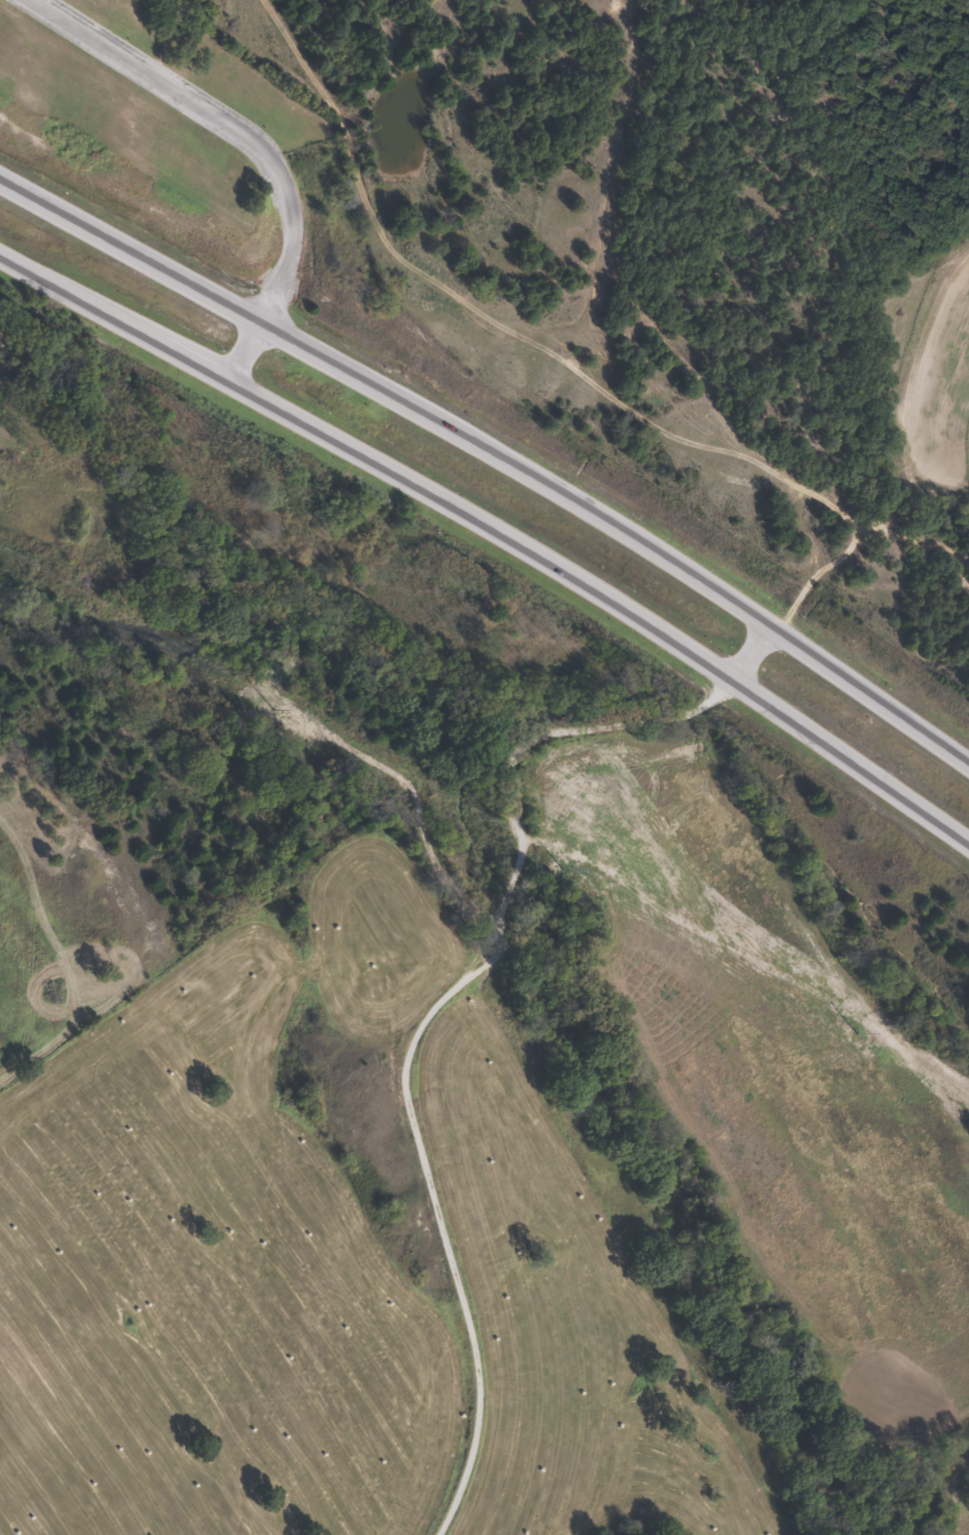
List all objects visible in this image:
road: (223, 125)
road: (241, 352)
road: (491, 465)
road: (497, 530)
road: (424, 993)

